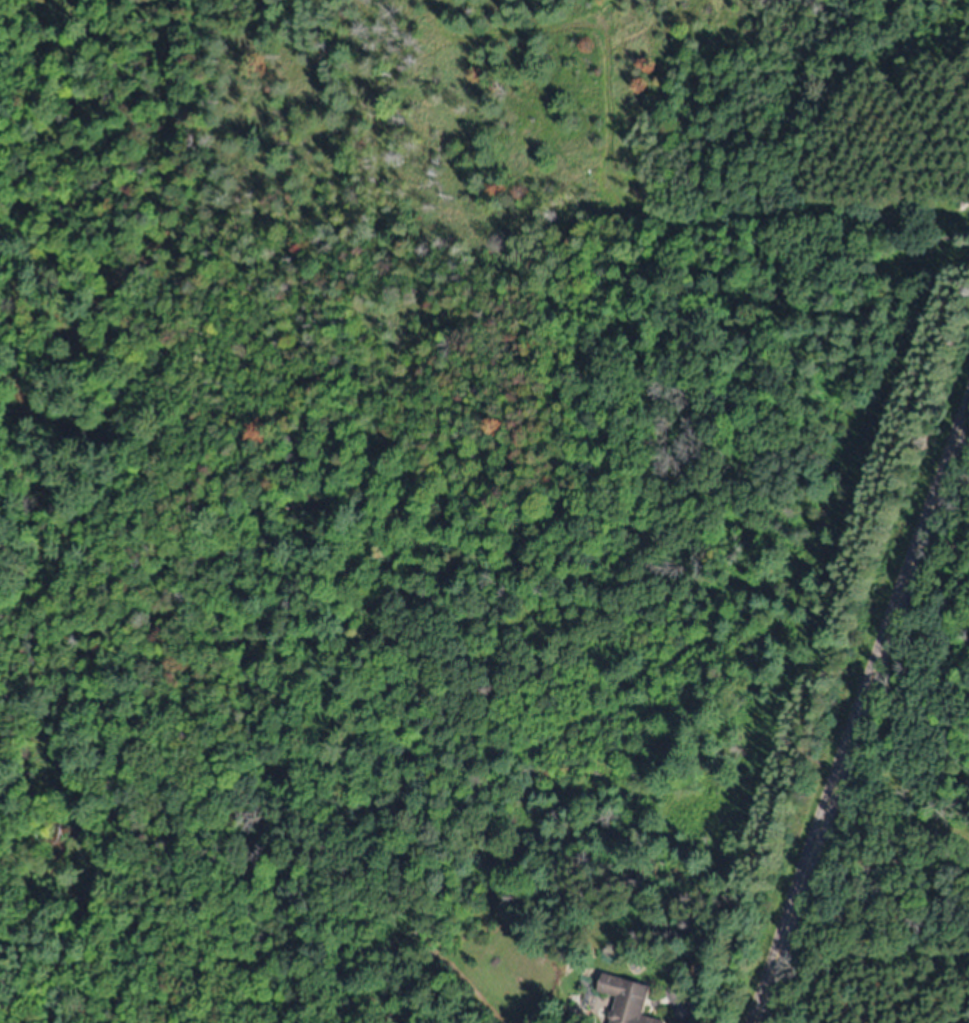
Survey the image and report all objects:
building: (611, 171)
road: (858, 706)
building: (629, 999)

